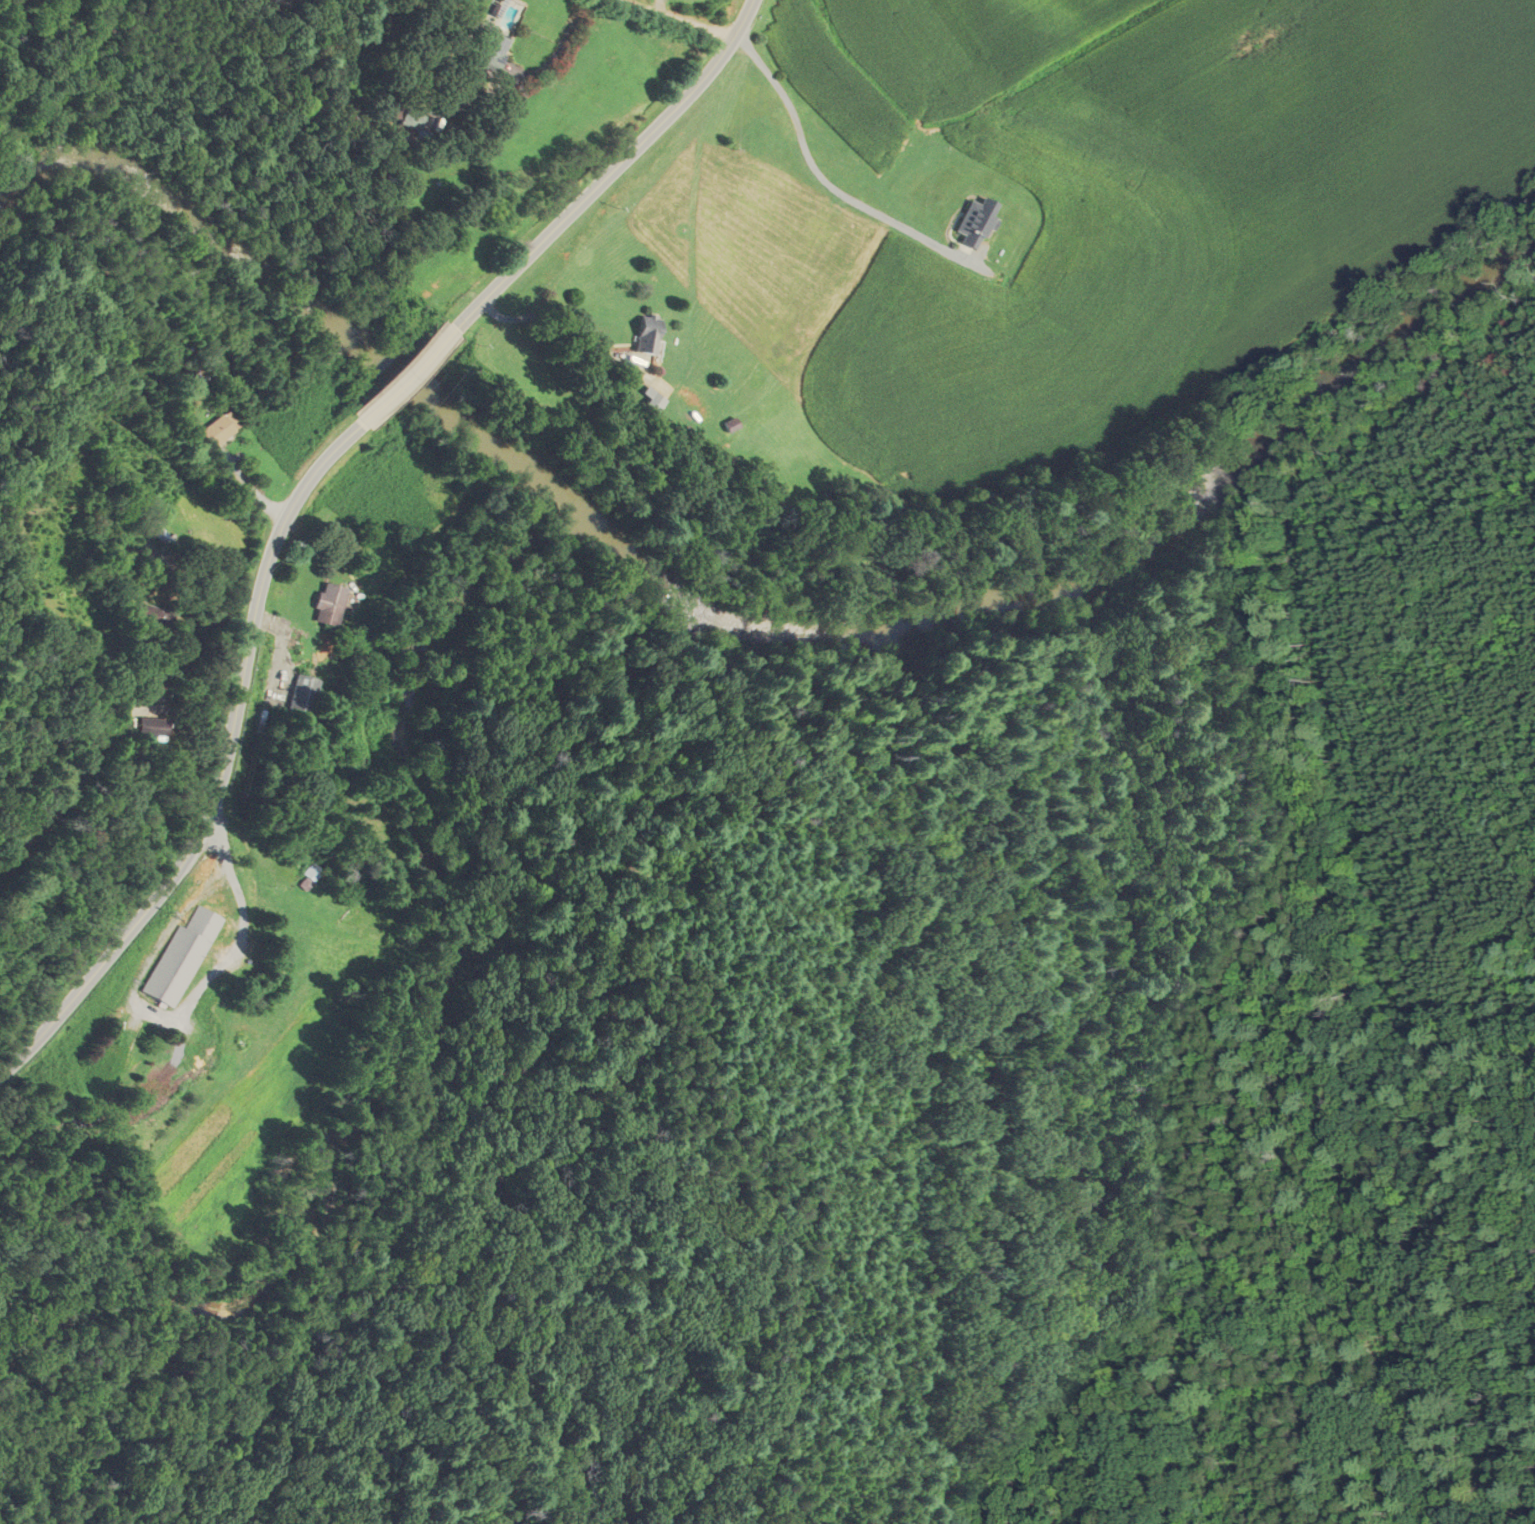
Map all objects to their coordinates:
road: (675, 18)
building: (488, 50)
building: (352, 118)
building: (410, 126)
road: (614, 172)
road: (818, 177)
building: (973, 223)
building: (160, 330)
building: (645, 335)
road: (406, 379)
building: (651, 400)
building: (219, 428)
building: (174, 549)
building: (325, 604)
building: (151, 615)
river: (739, 627)
building: (299, 696)
building: (151, 728)
road: (222, 775)
building: (182, 957)
building: (111, 1061)

